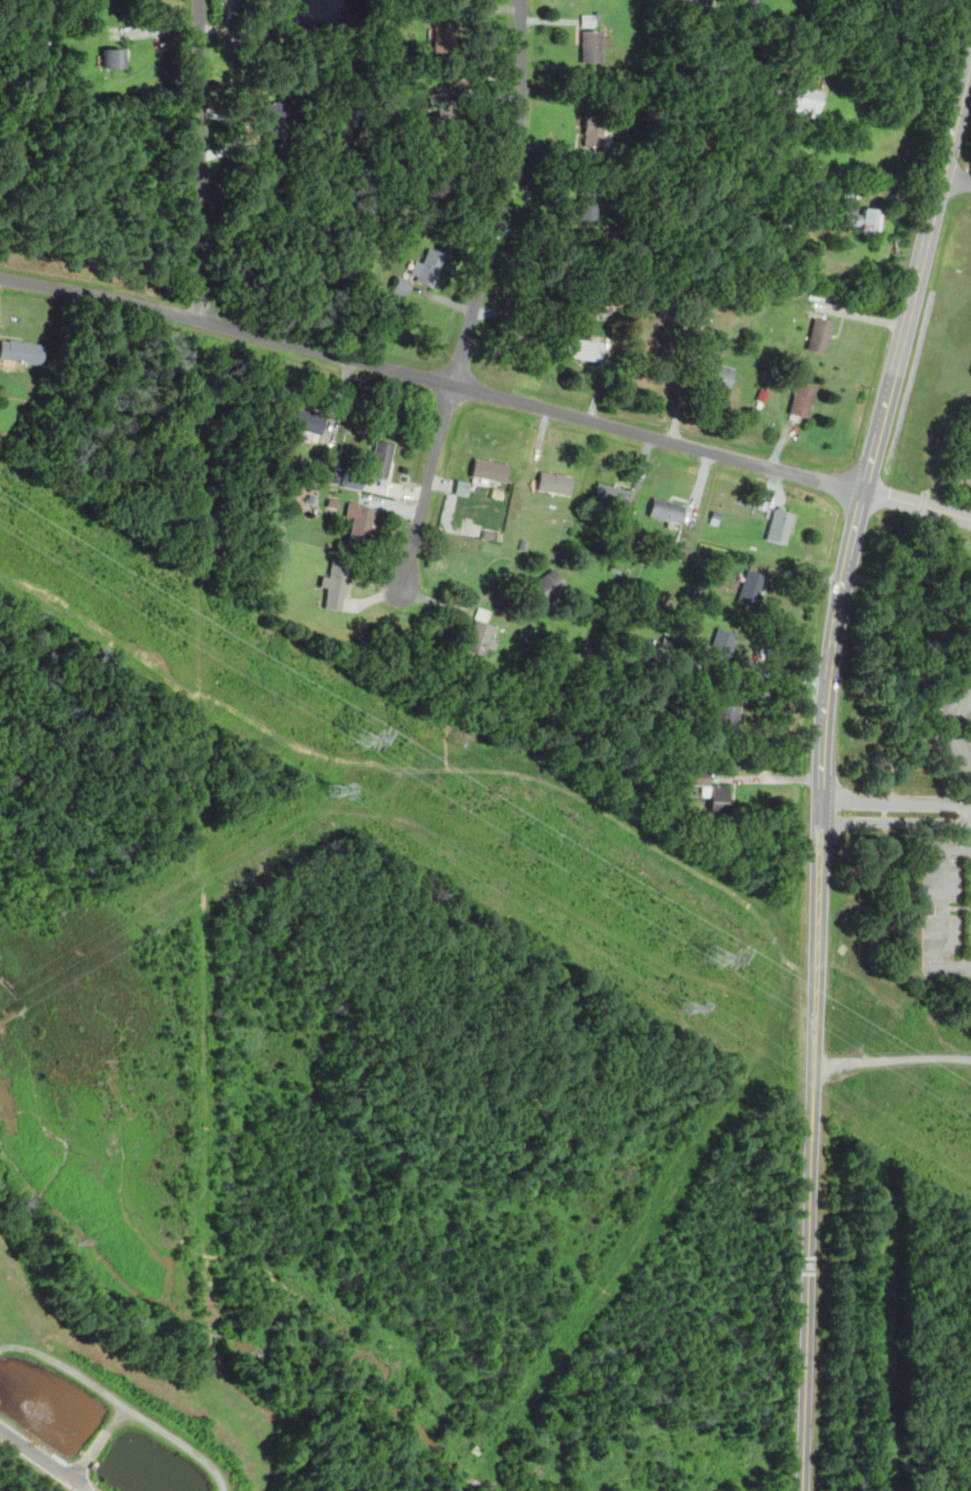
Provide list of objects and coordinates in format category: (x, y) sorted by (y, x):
building: (586, 22)
building: (439, 36)
building: (591, 48)
building: (113, 59)
building: (804, 102)
building: (272, 124)
building: (592, 132)
road: (200, 160)
road: (956, 178)
building: (860, 220)
building: (776, 245)
building: (427, 270)
road: (477, 294)
building: (668, 303)
building: (819, 335)
building: (517, 343)
building: (583, 350)
building: (21, 351)
building: (717, 375)
road: (432, 377)
road: (684, 388)
building: (802, 400)
building: (306, 422)
building: (380, 459)
building: (488, 470)
road: (945, 482)
building: (554, 483)
building: (611, 495)
road: (917, 503)
road: (923, 505)
building: (666, 511)
building: (361, 524)
building: (779, 526)
road: (909, 559)
building: (336, 585)
building: (548, 585)
building: (750, 588)
building: (479, 634)
building: (721, 646)
building: (727, 714)
road: (949, 727)
power tower: (360, 743)
road: (822, 764)
road: (771, 778)
power tower: (332, 794)
building: (713, 794)
road: (896, 801)
road: (896, 821)
road: (939, 910)
power tower: (719, 958)
power tower: (684, 1006)
road: (892, 1059)
road: (43, 1457)

